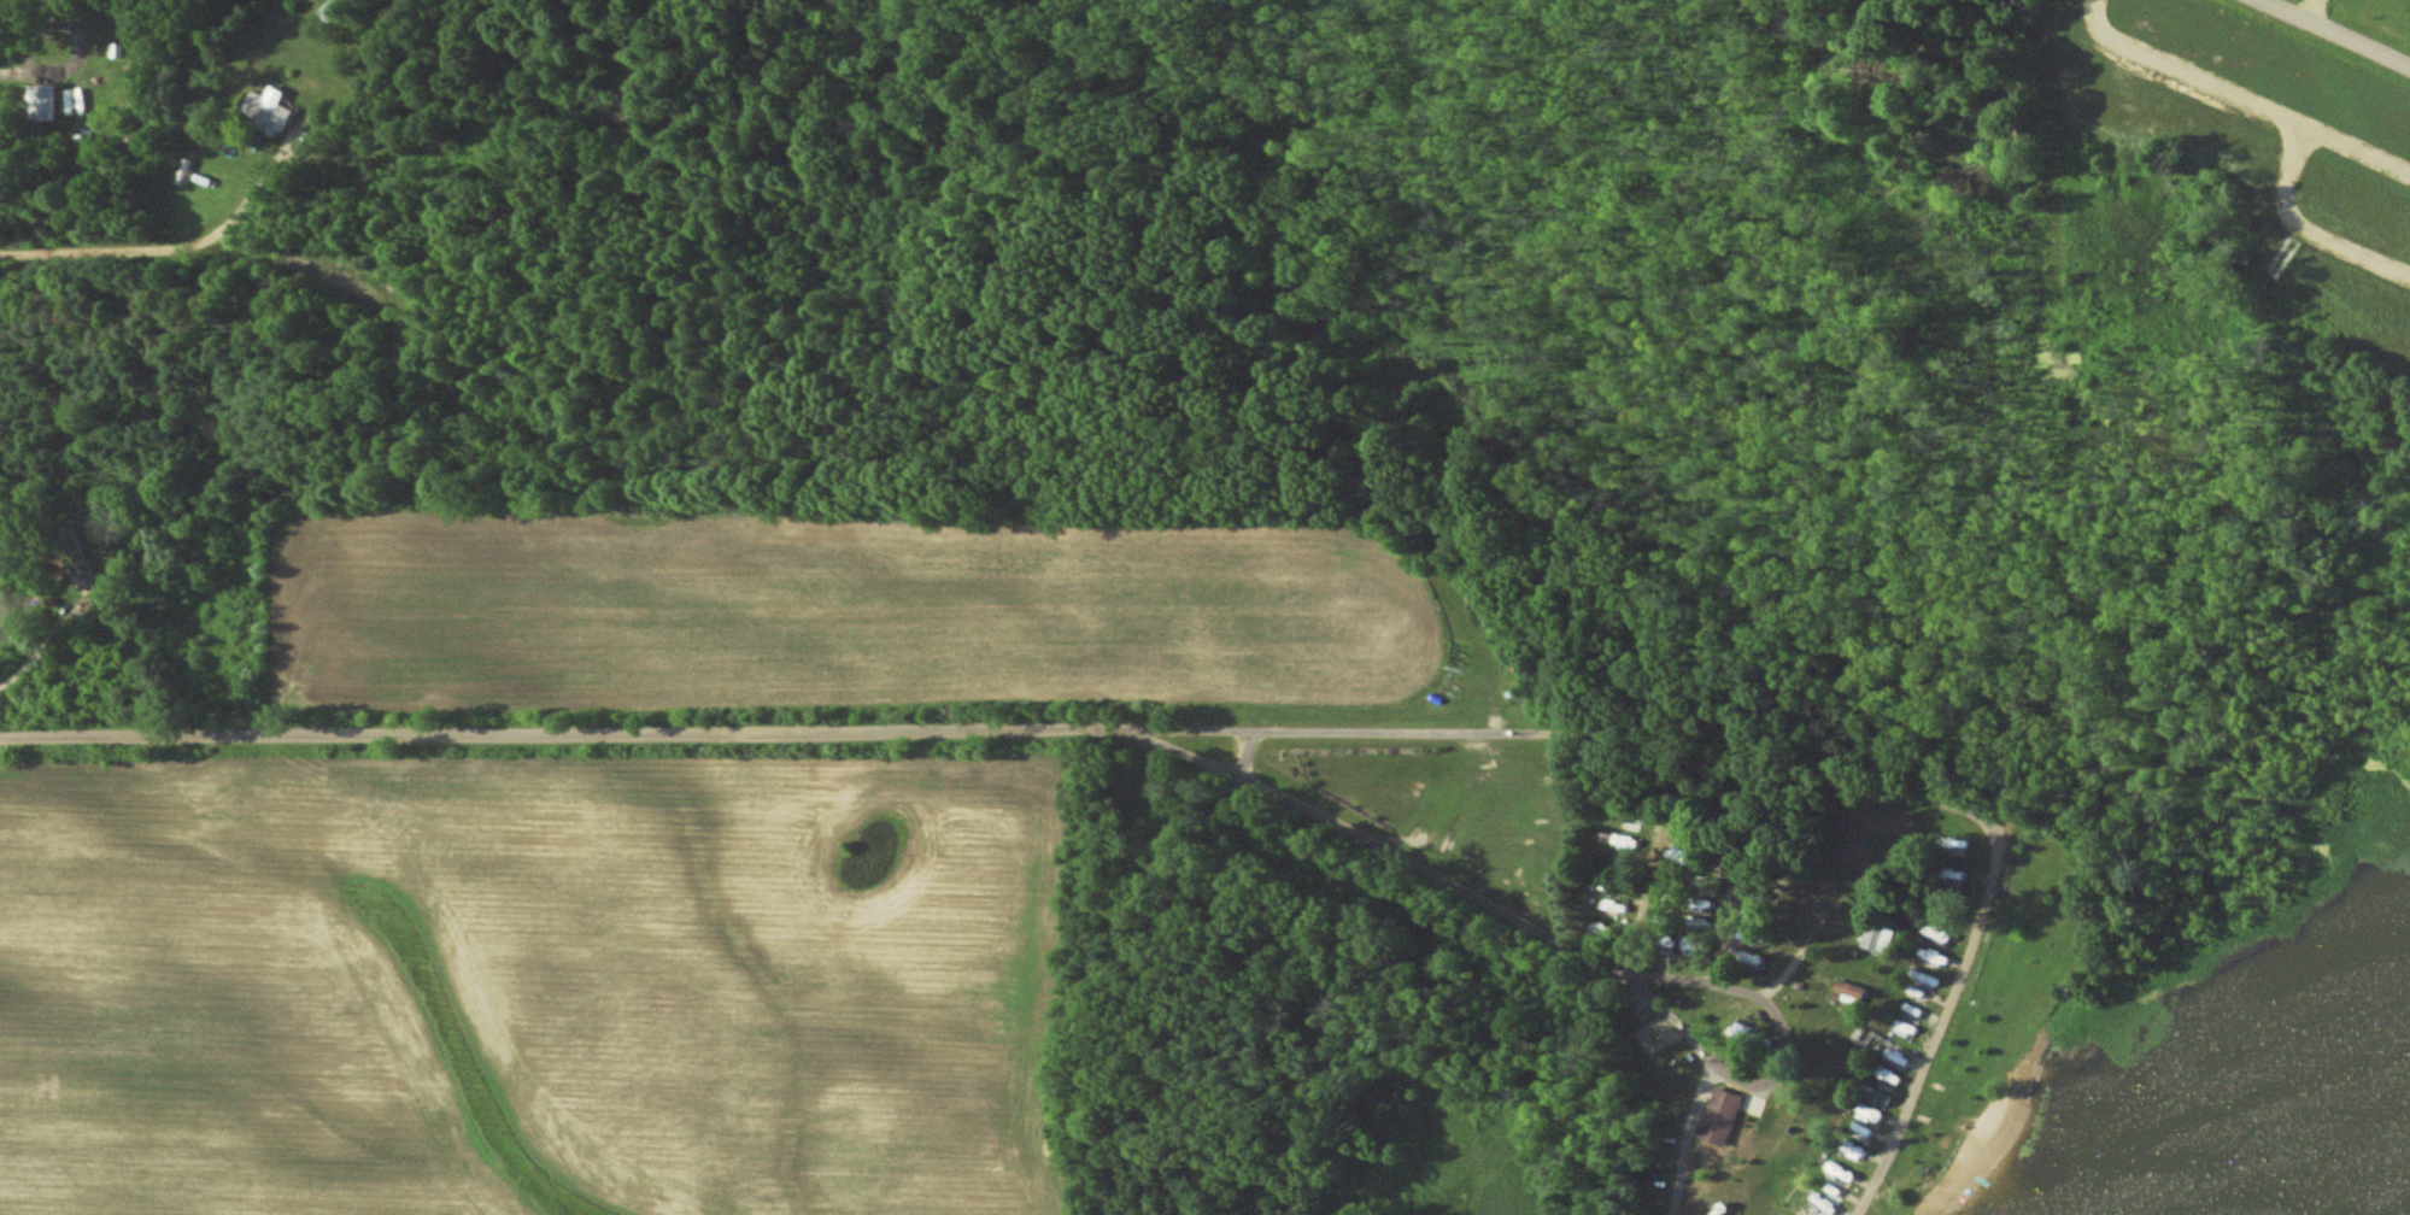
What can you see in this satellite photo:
road: (80, 34)
road: (2327, 37)
road: (17, 78)
building: (271, 107)
road: (159, 251)
road: (42, 652)
road: (845, 738)
road: (1810, 763)
building: (1613, 908)
building: (1878, 939)
road: (1634, 981)
building: (1852, 987)
building: (1722, 1115)
road: (1683, 1139)

